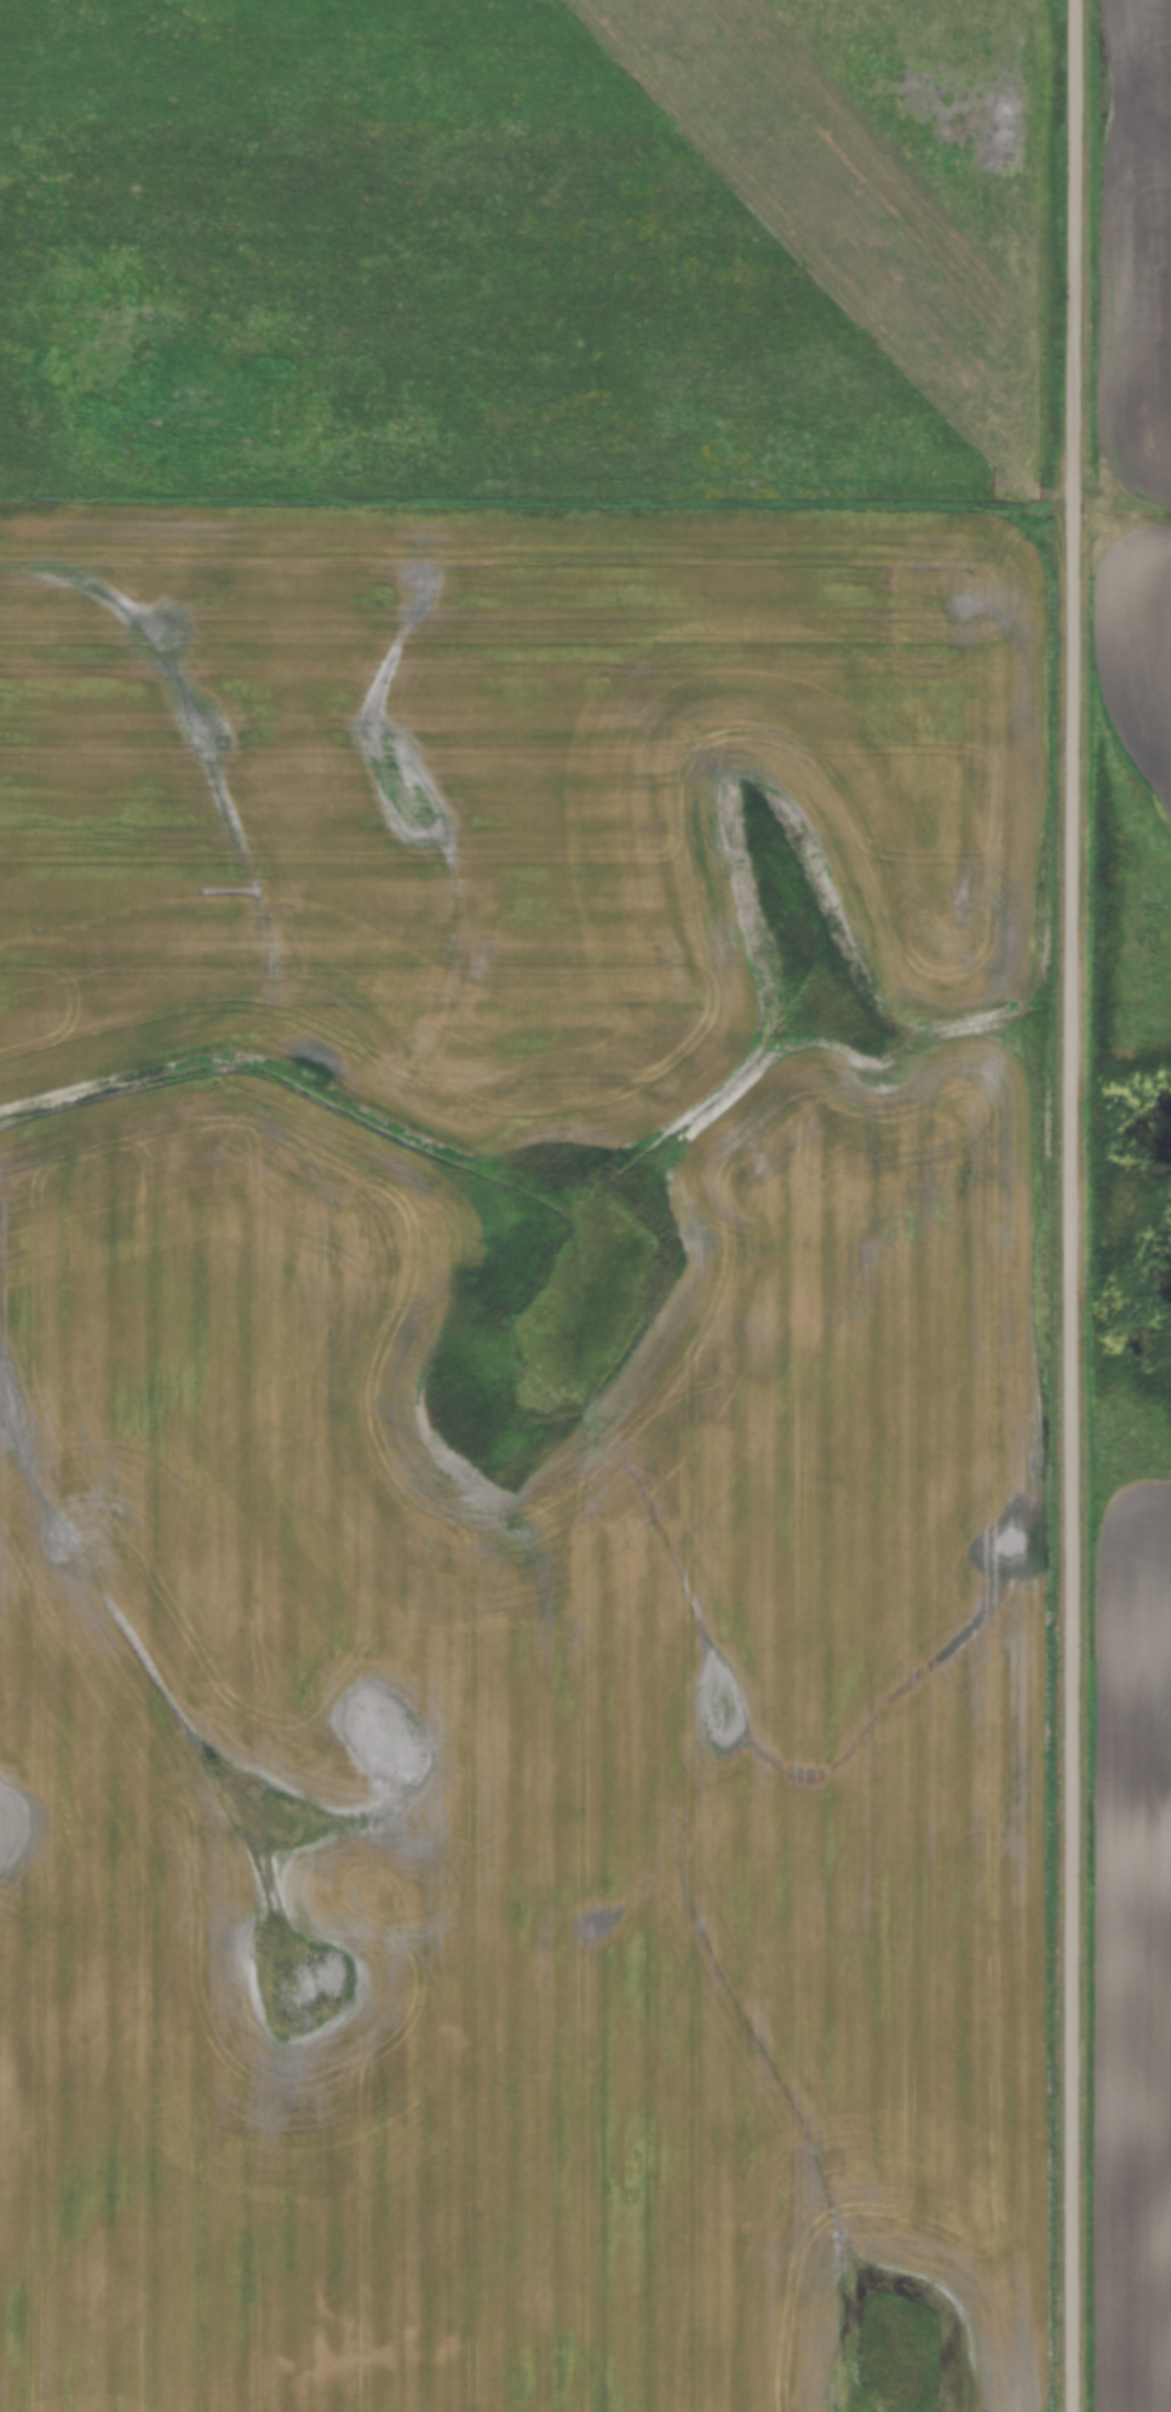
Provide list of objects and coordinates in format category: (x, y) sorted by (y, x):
road: (1121, 514)
road: (1069, 1205)

